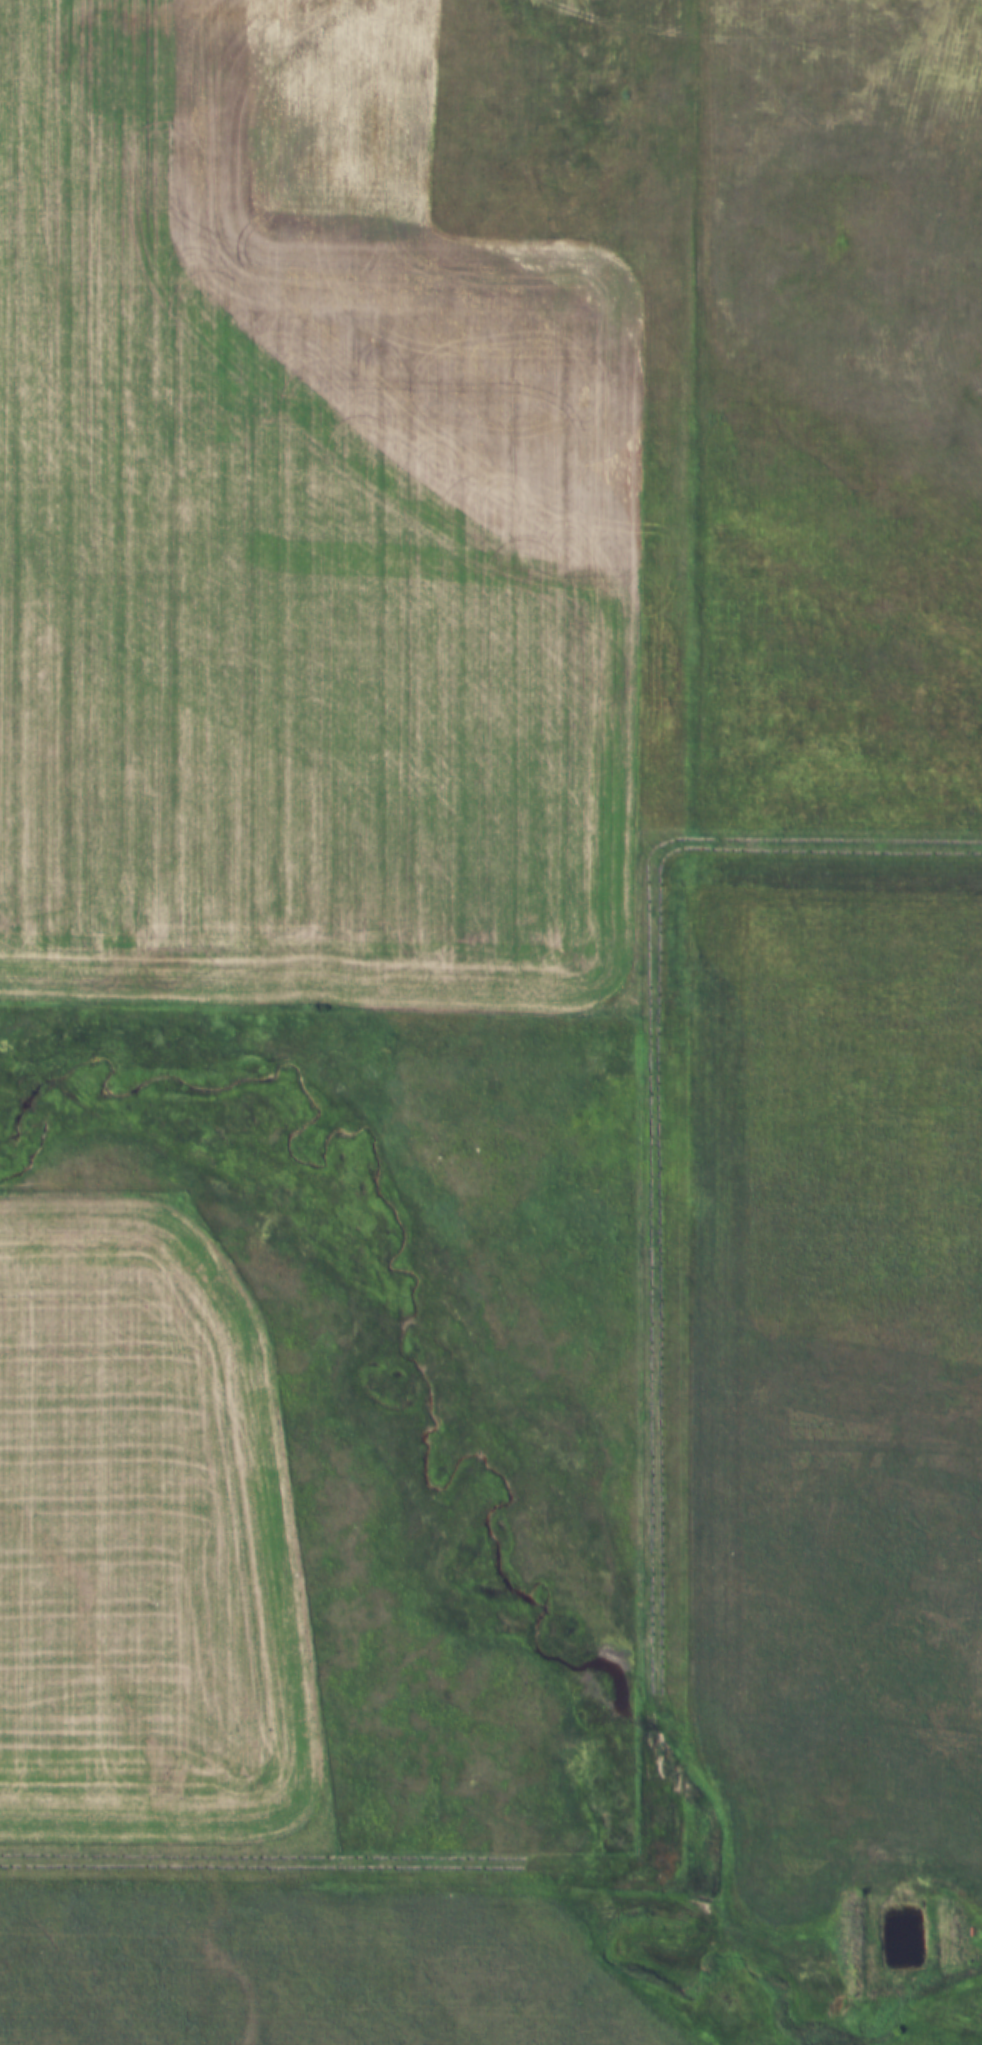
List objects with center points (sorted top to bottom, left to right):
road: (346, 1894)

